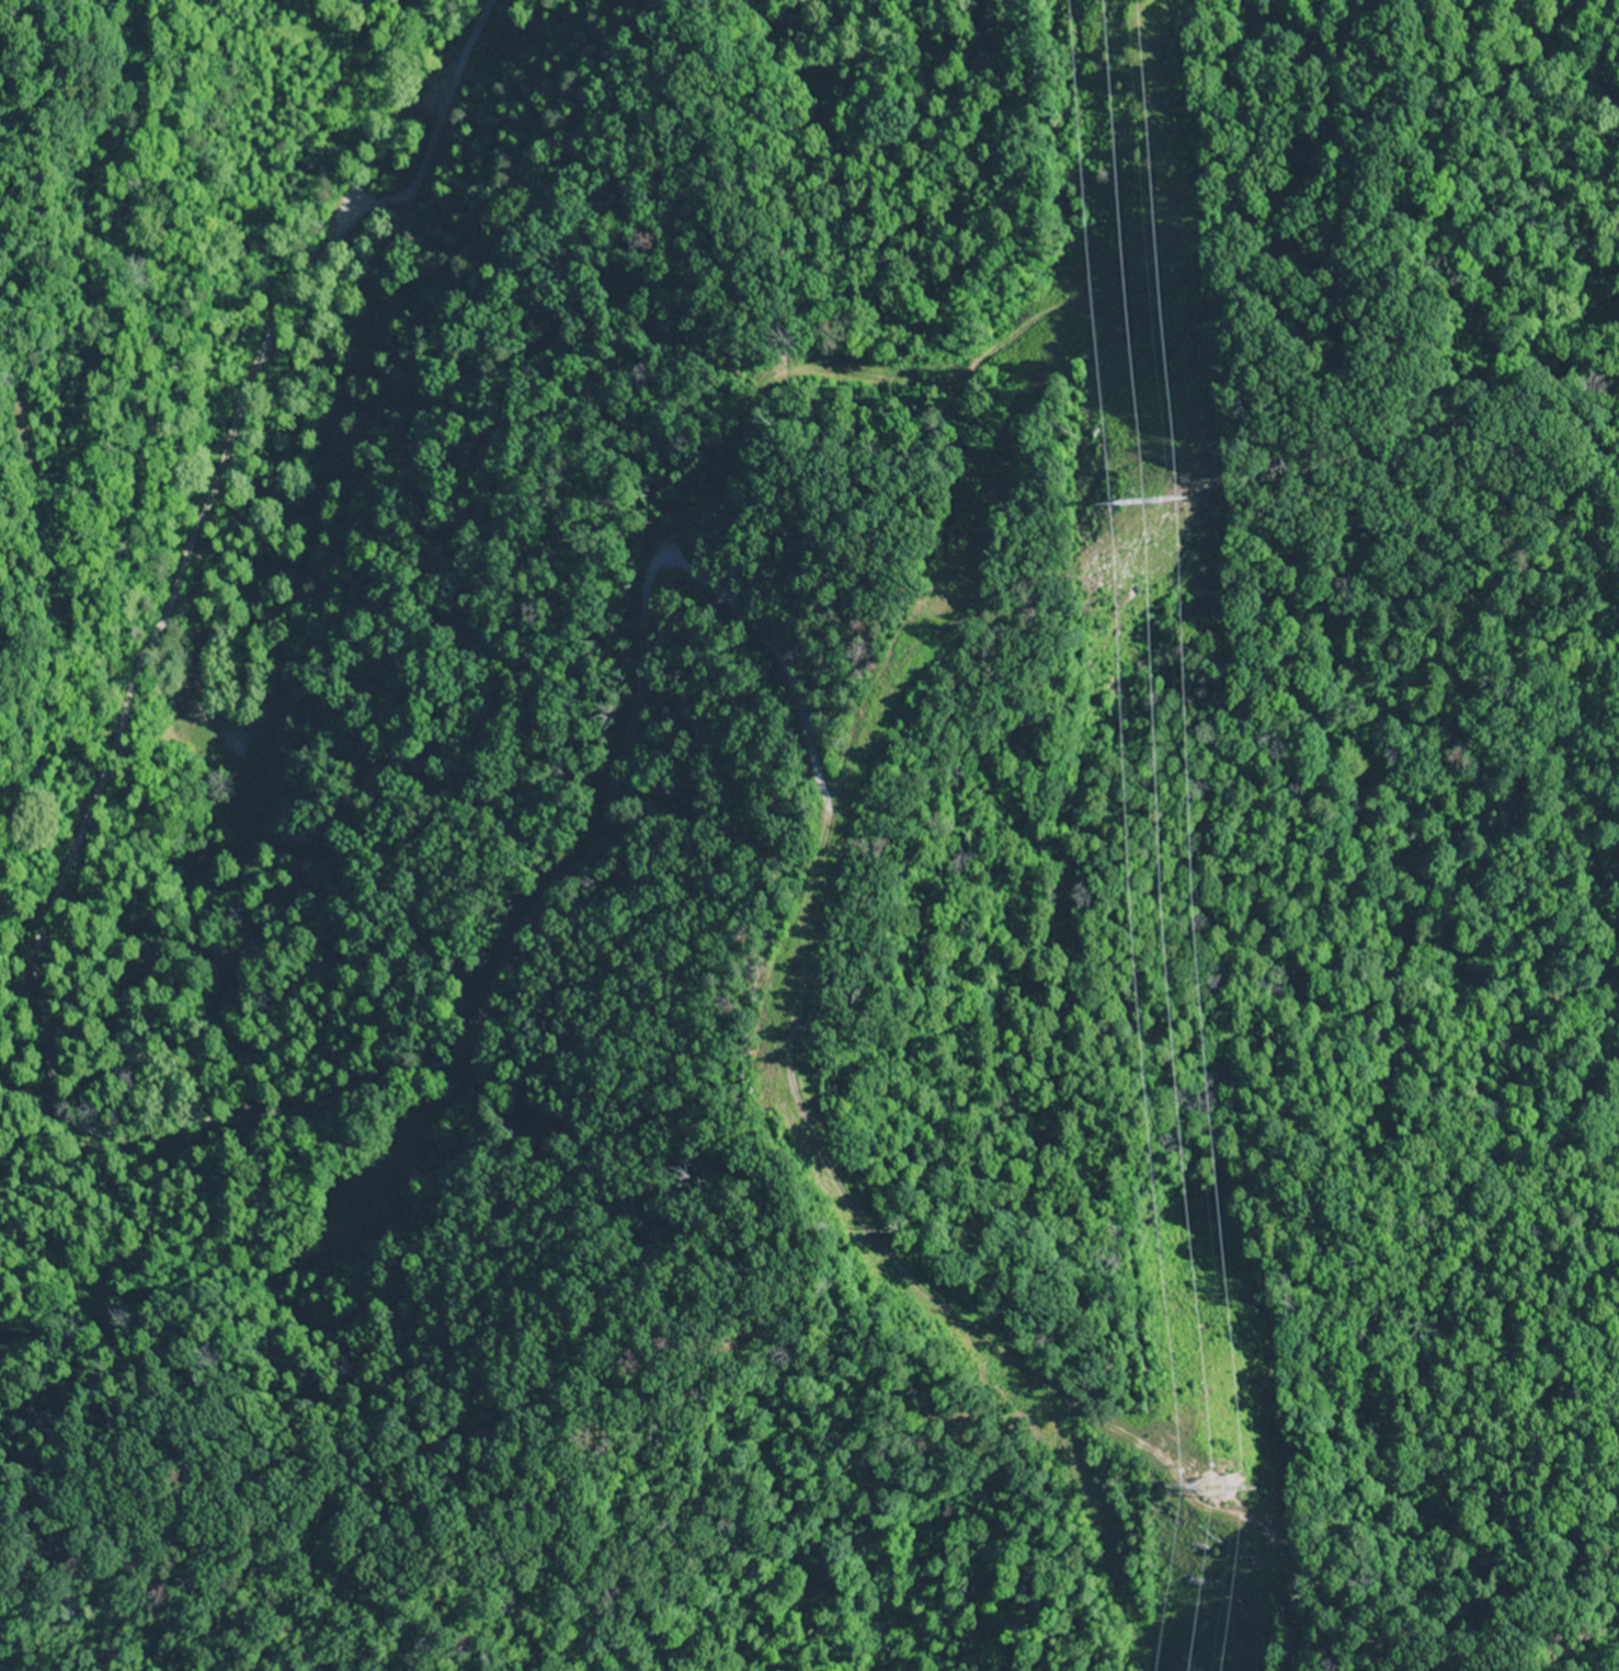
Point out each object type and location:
road: (484, 81)
power tower: (1148, 517)
power tower: (1217, 1500)

